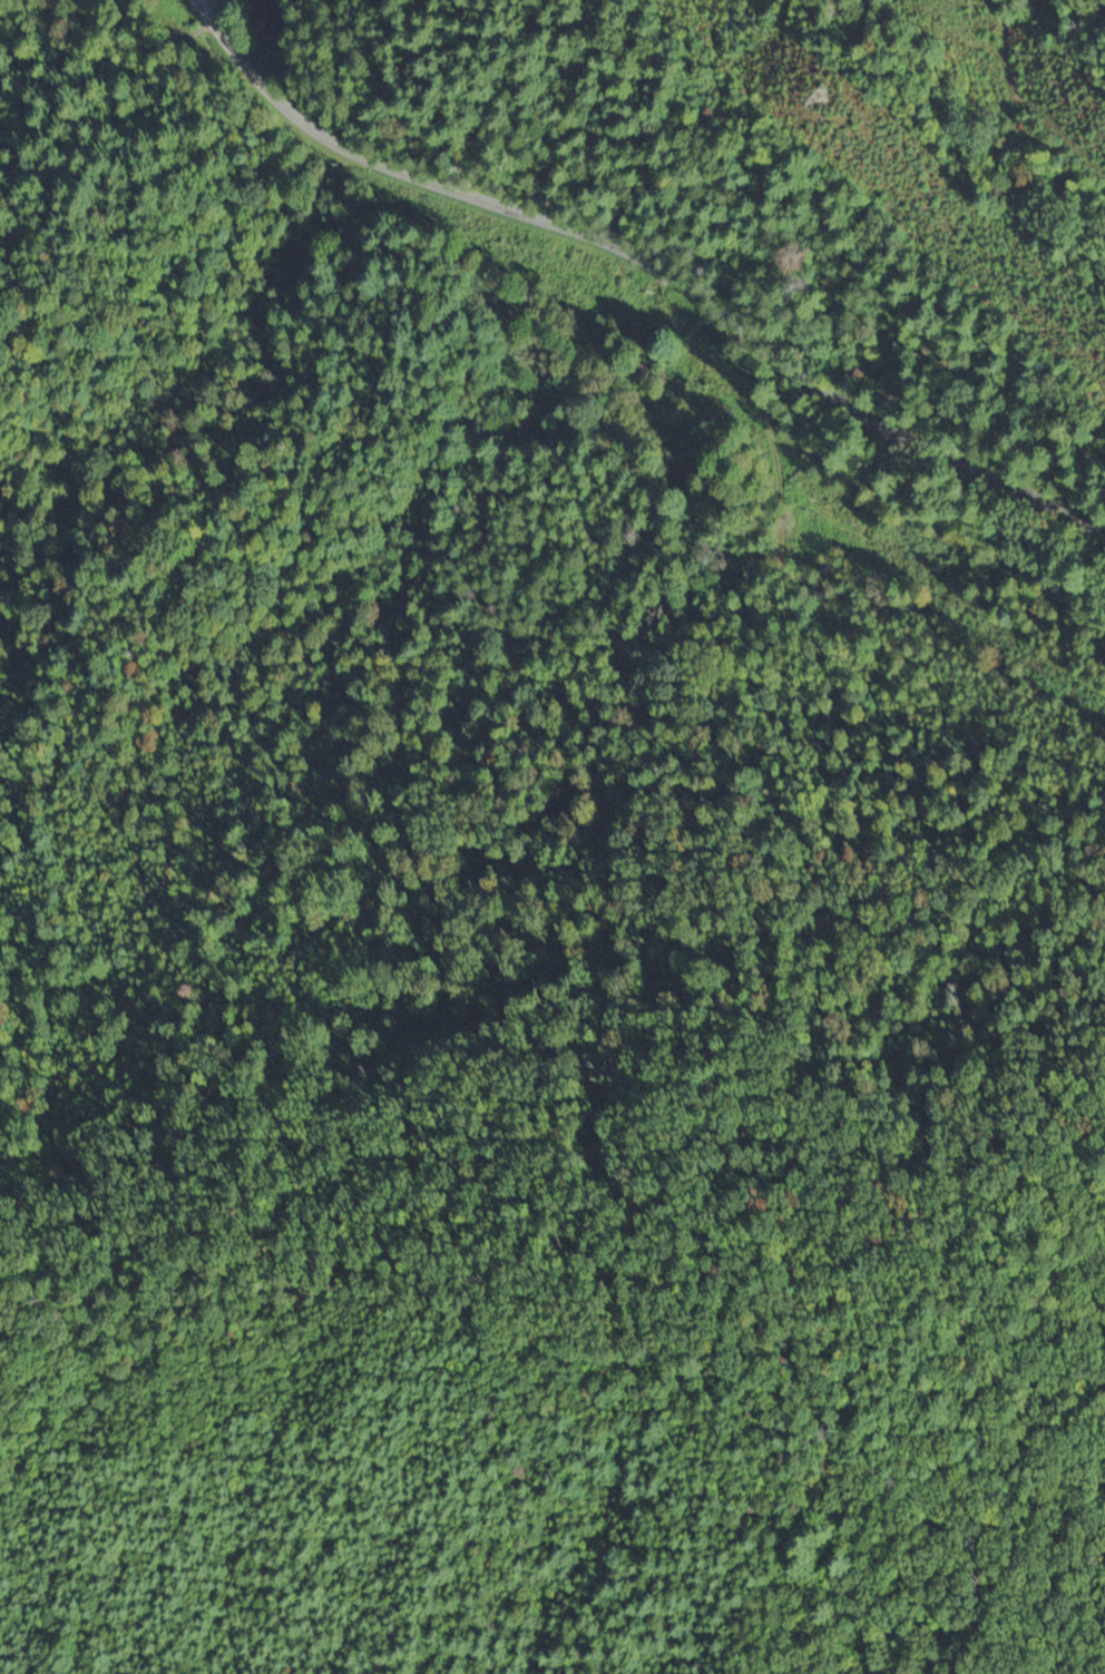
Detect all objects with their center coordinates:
building: (270, 21)
power tower: (816, 98)
road: (644, 264)

